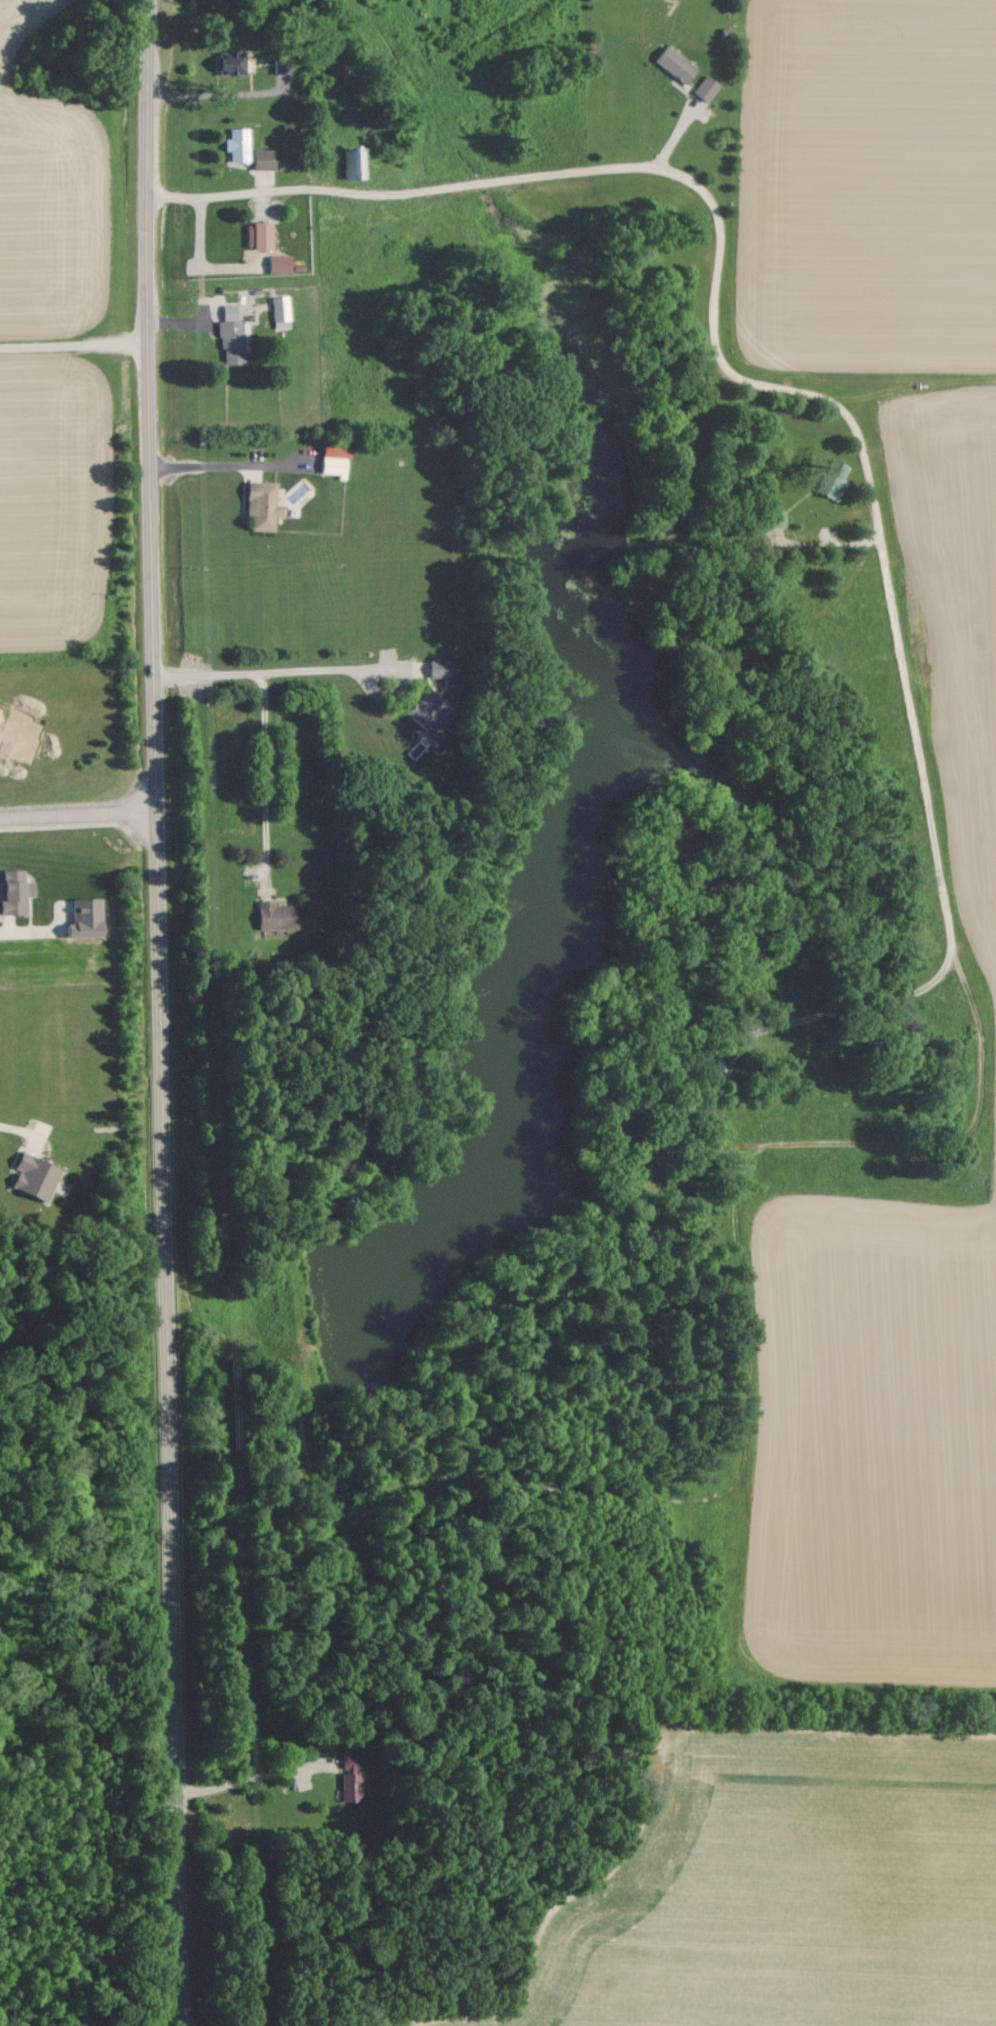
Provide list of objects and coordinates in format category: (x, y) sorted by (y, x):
building: (235, 61)
building: (677, 63)
building: (281, 64)
building: (707, 87)
building: (240, 143)
building: (266, 158)
building: (355, 161)
building: (261, 234)
building: (282, 262)
building: (281, 307)
building: (233, 335)
road: (78, 339)
building: (337, 460)
road: (866, 473)
building: (265, 505)
building: (441, 667)
road: (278, 670)
building: (433, 710)
road: (264, 770)
road: (81, 814)
building: (17, 891)
building: (280, 915)
building: (89, 917)
road: (169, 1013)
building: (38, 1176)
dam: (317, 1325)
building: (353, 1777)
road: (260, 1778)

